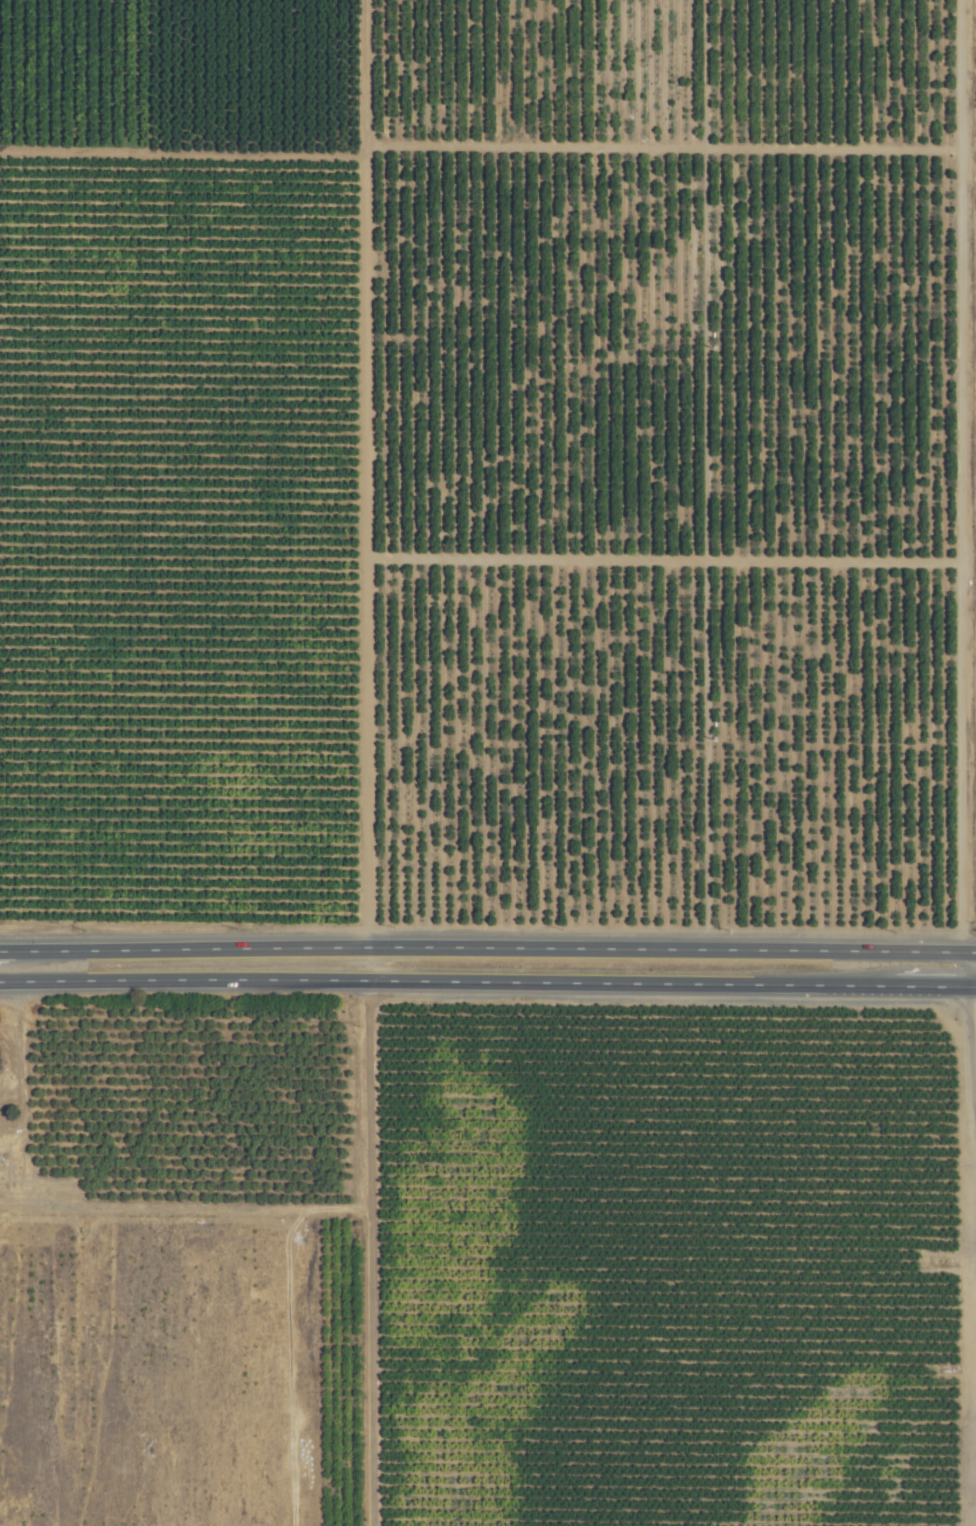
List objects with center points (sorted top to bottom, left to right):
crop: (489, 761)
road: (488, 948)
road: (975, 970)
road: (488, 981)
crop: (12, 1105)

